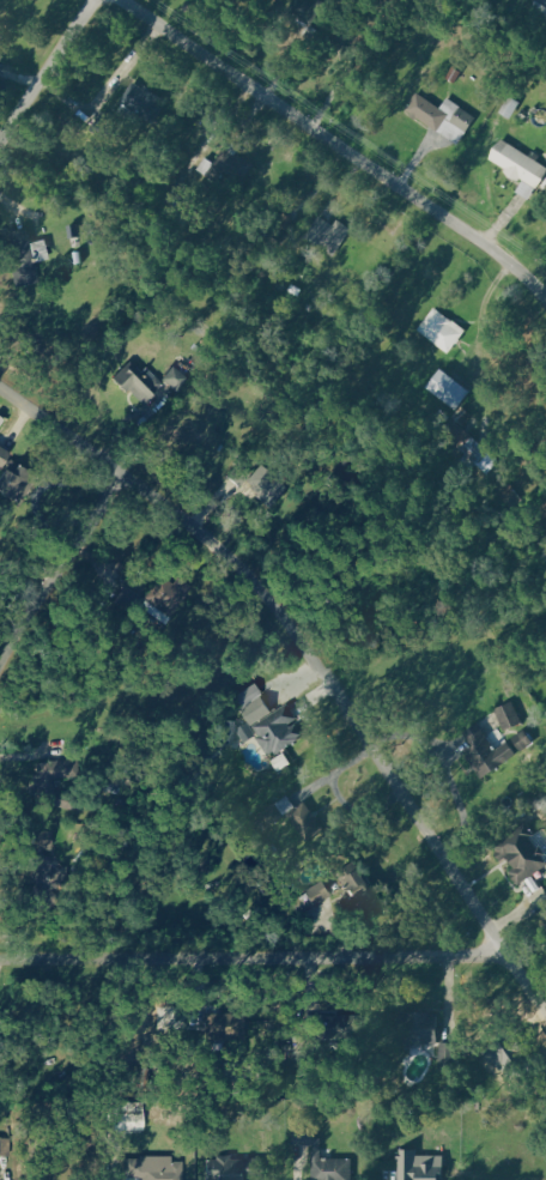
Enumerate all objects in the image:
road: (49, 72)
building: (140, 102)
building: (445, 116)
road: (342, 145)
building: (522, 168)
building: (332, 234)
building: (29, 256)
building: (445, 329)
building: (158, 386)
building: (455, 389)
building: (2, 422)
building: (480, 455)
building: (16, 473)
road: (60, 573)
road: (315, 655)
building: (511, 716)
building: (268, 721)
building: (485, 751)
building: (50, 779)
building: (298, 818)
building: (528, 857)
building: (365, 889)
road: (253, 952)
building: (433, 1036)
building: (317, 1150)
building: (424, 1166)
building: (239, 1168)

